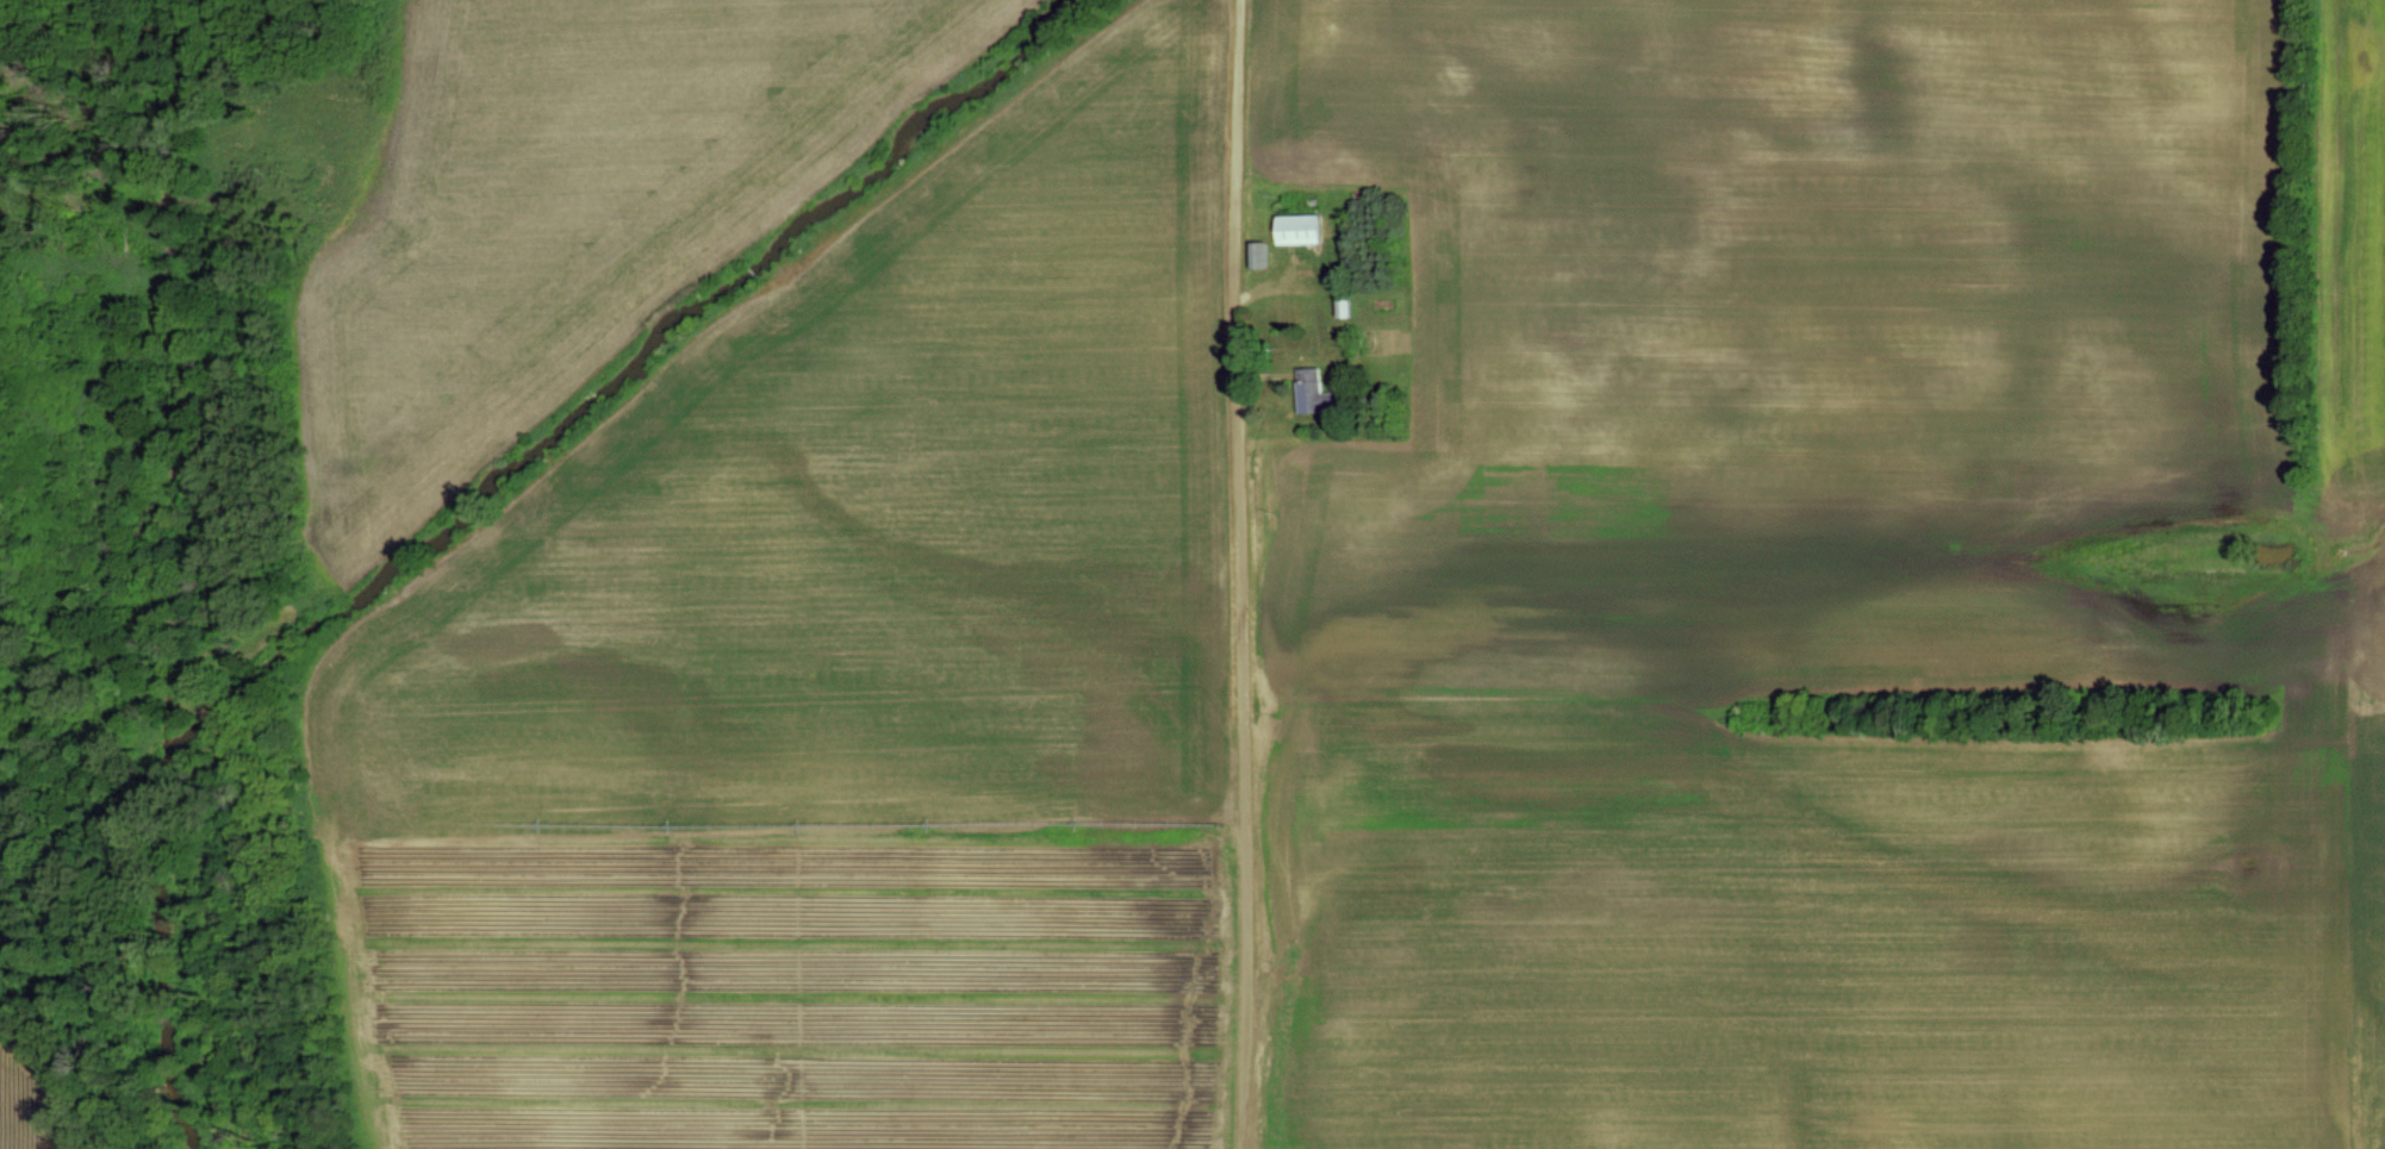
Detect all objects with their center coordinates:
building: (1296, 229)
building: (1256, 254)
building: (1340, 307)
building: (1309, 391)
road: (1241, 574)

